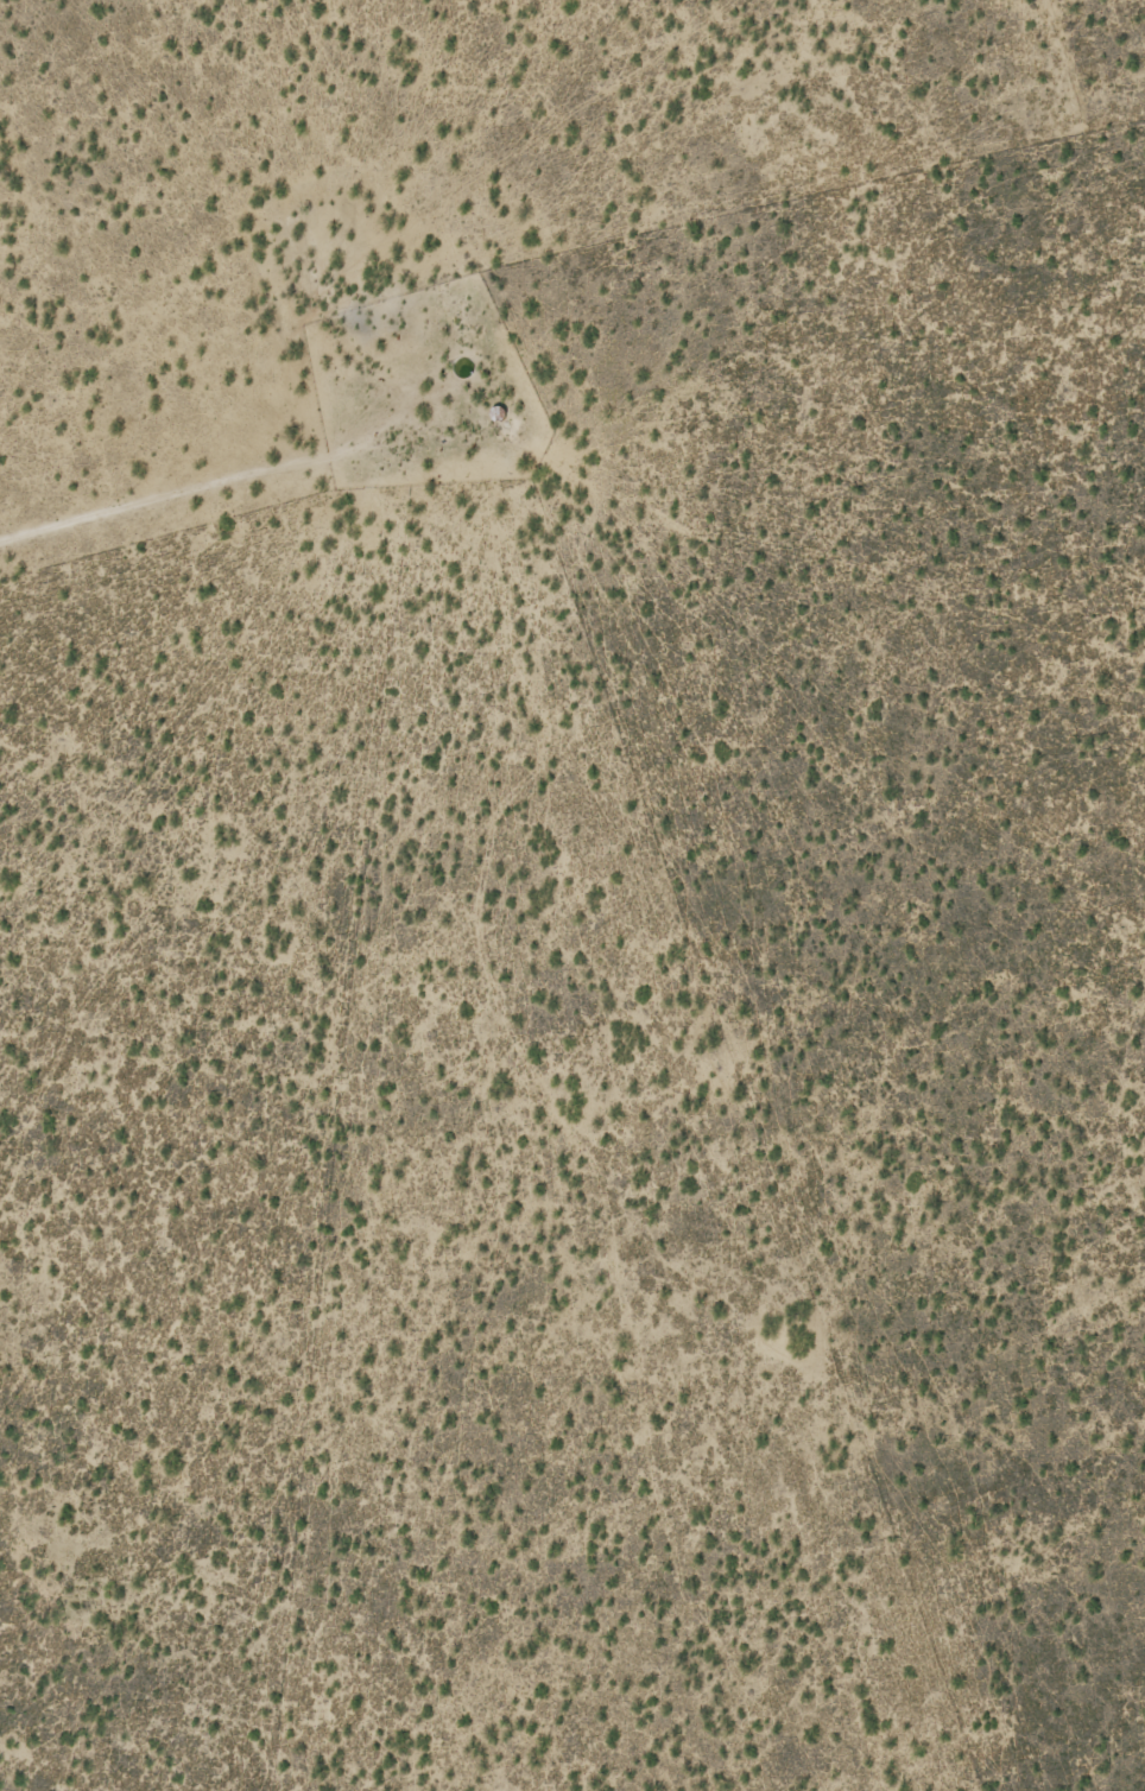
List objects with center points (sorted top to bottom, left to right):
road: (209, 510)

